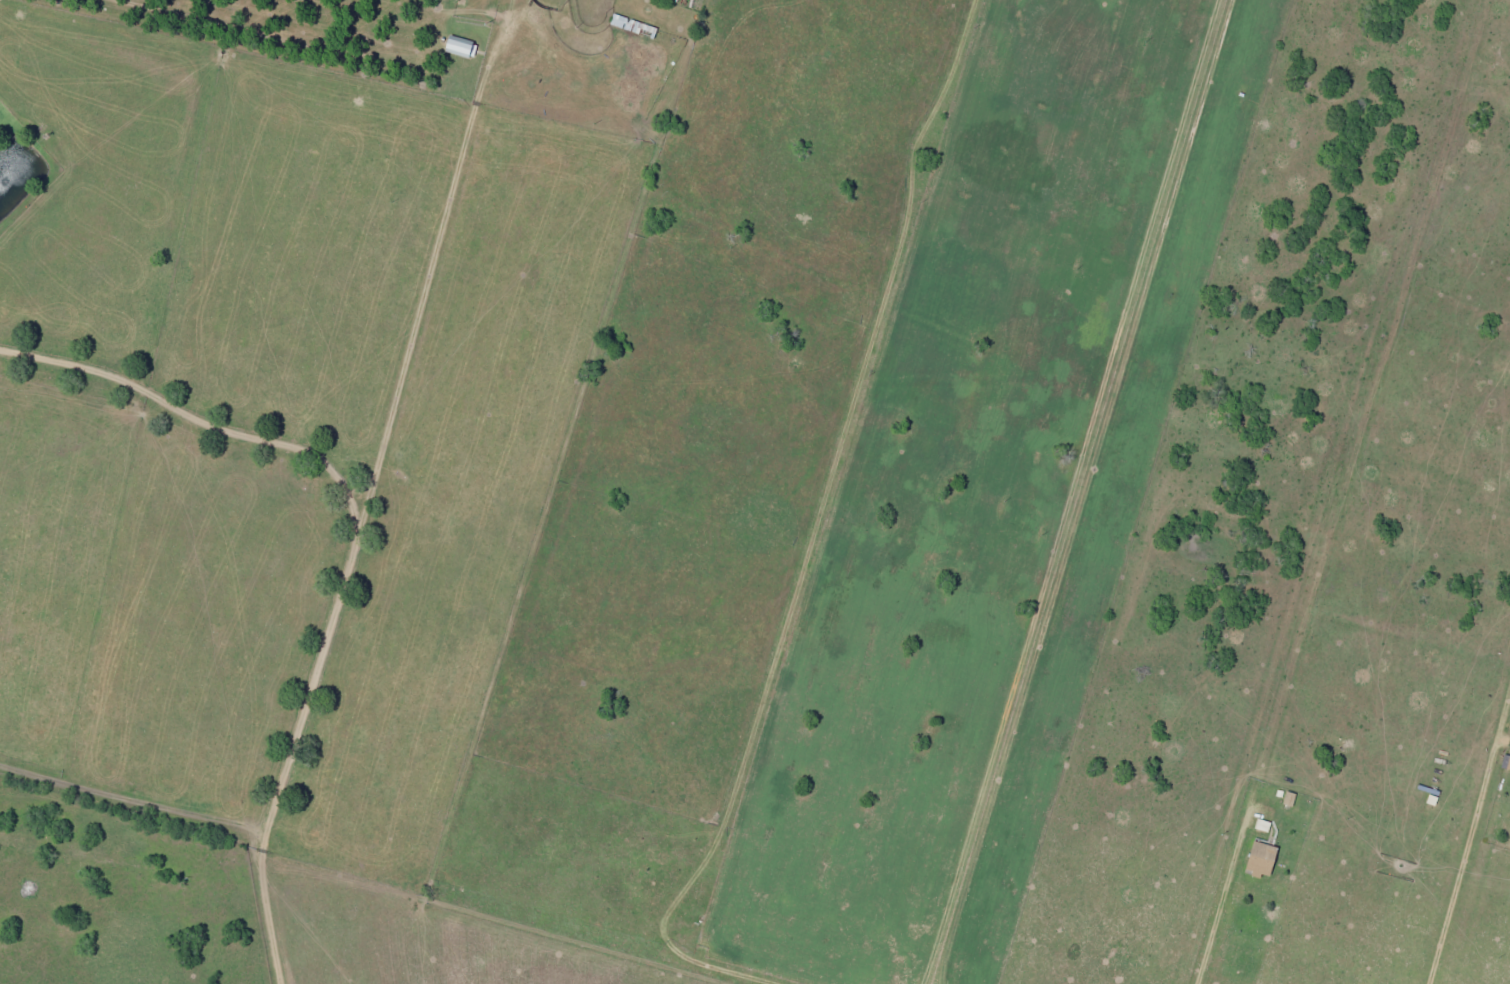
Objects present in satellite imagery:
building: (631, 25)
building: (456, 45)
road: (534, 66)
road: (391, 519)
building: (1507, 764)
building: (1261, 824)
building: (1258, 858)
road: (182, 865)

